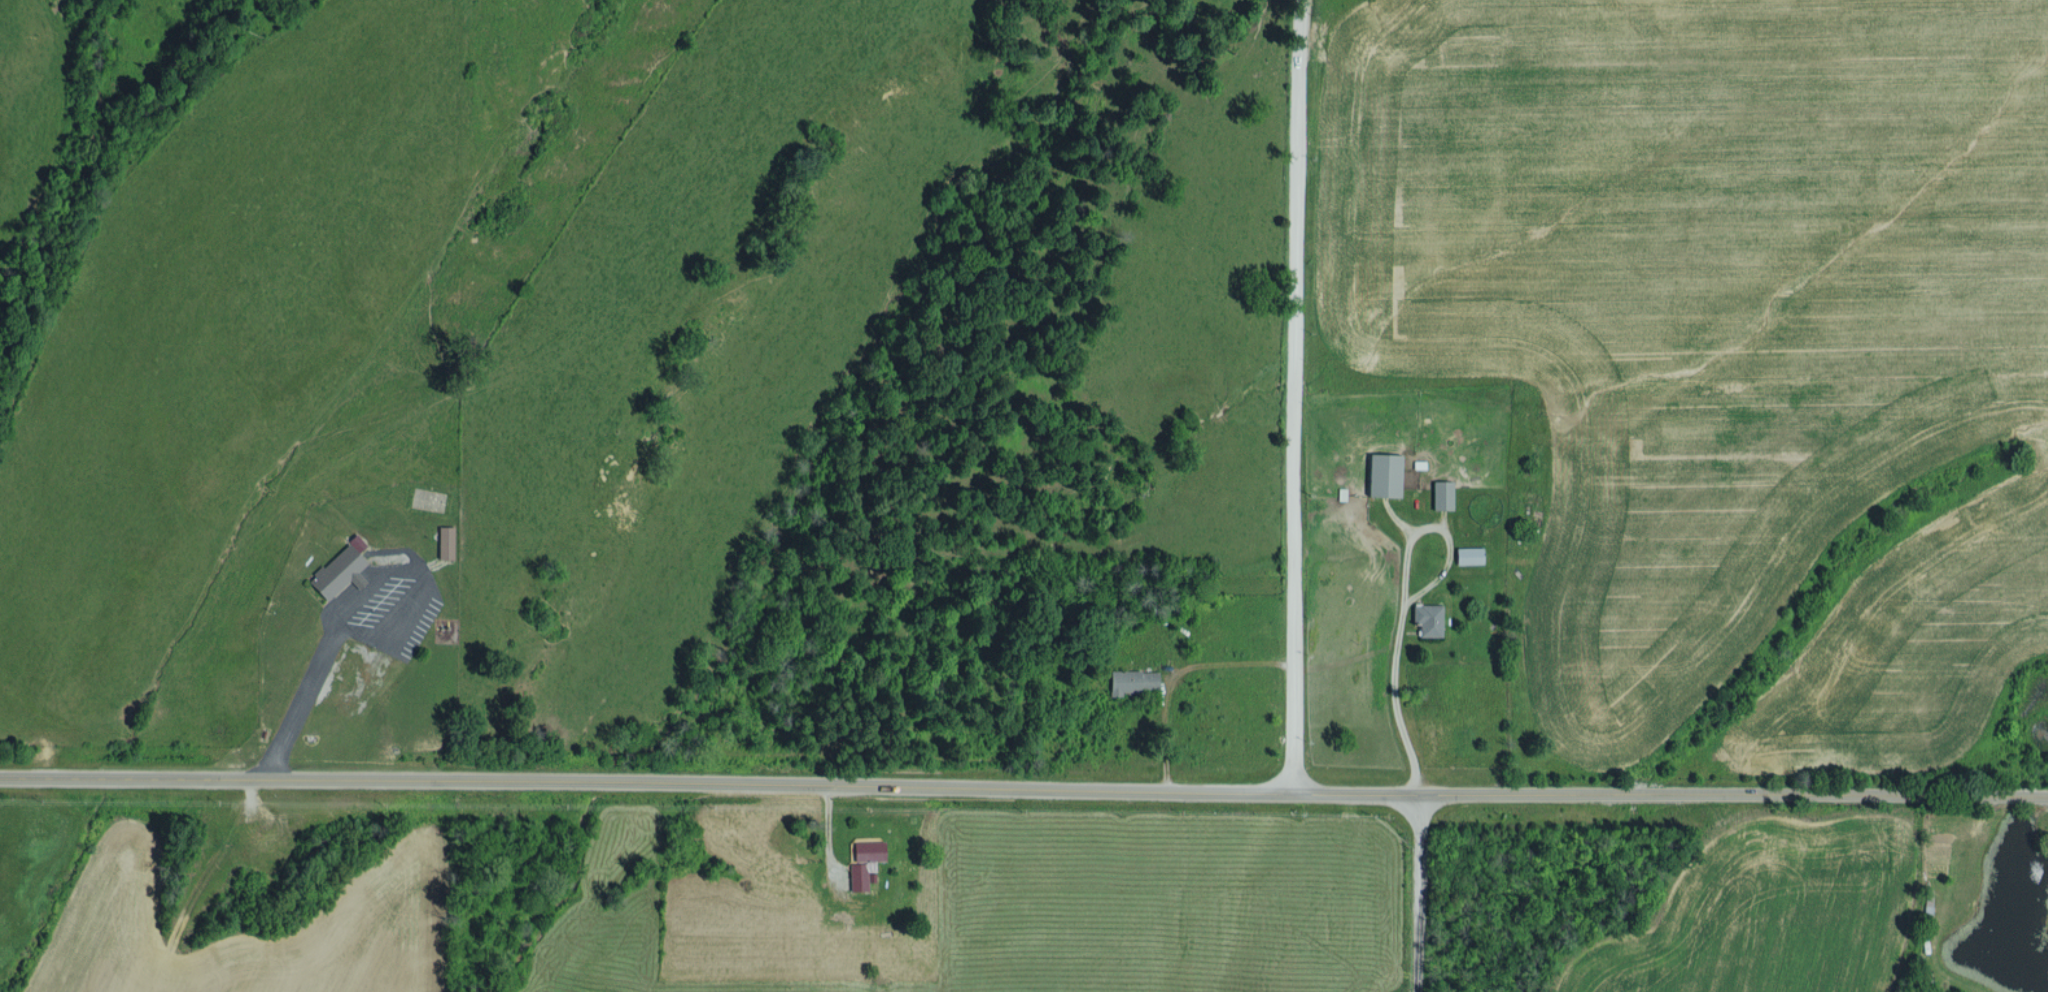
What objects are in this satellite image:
road: (1299, 398)
building: (1382, 474)
building: (1441, 494)
building: (444, 541)
building: (356, 542)
building: (1467, 555)
building: (337, 571)
building: (1427, 619)
building: (1130, 681)
road: (1023, 794)
building: (862, 863)
road: (1410, 895)

